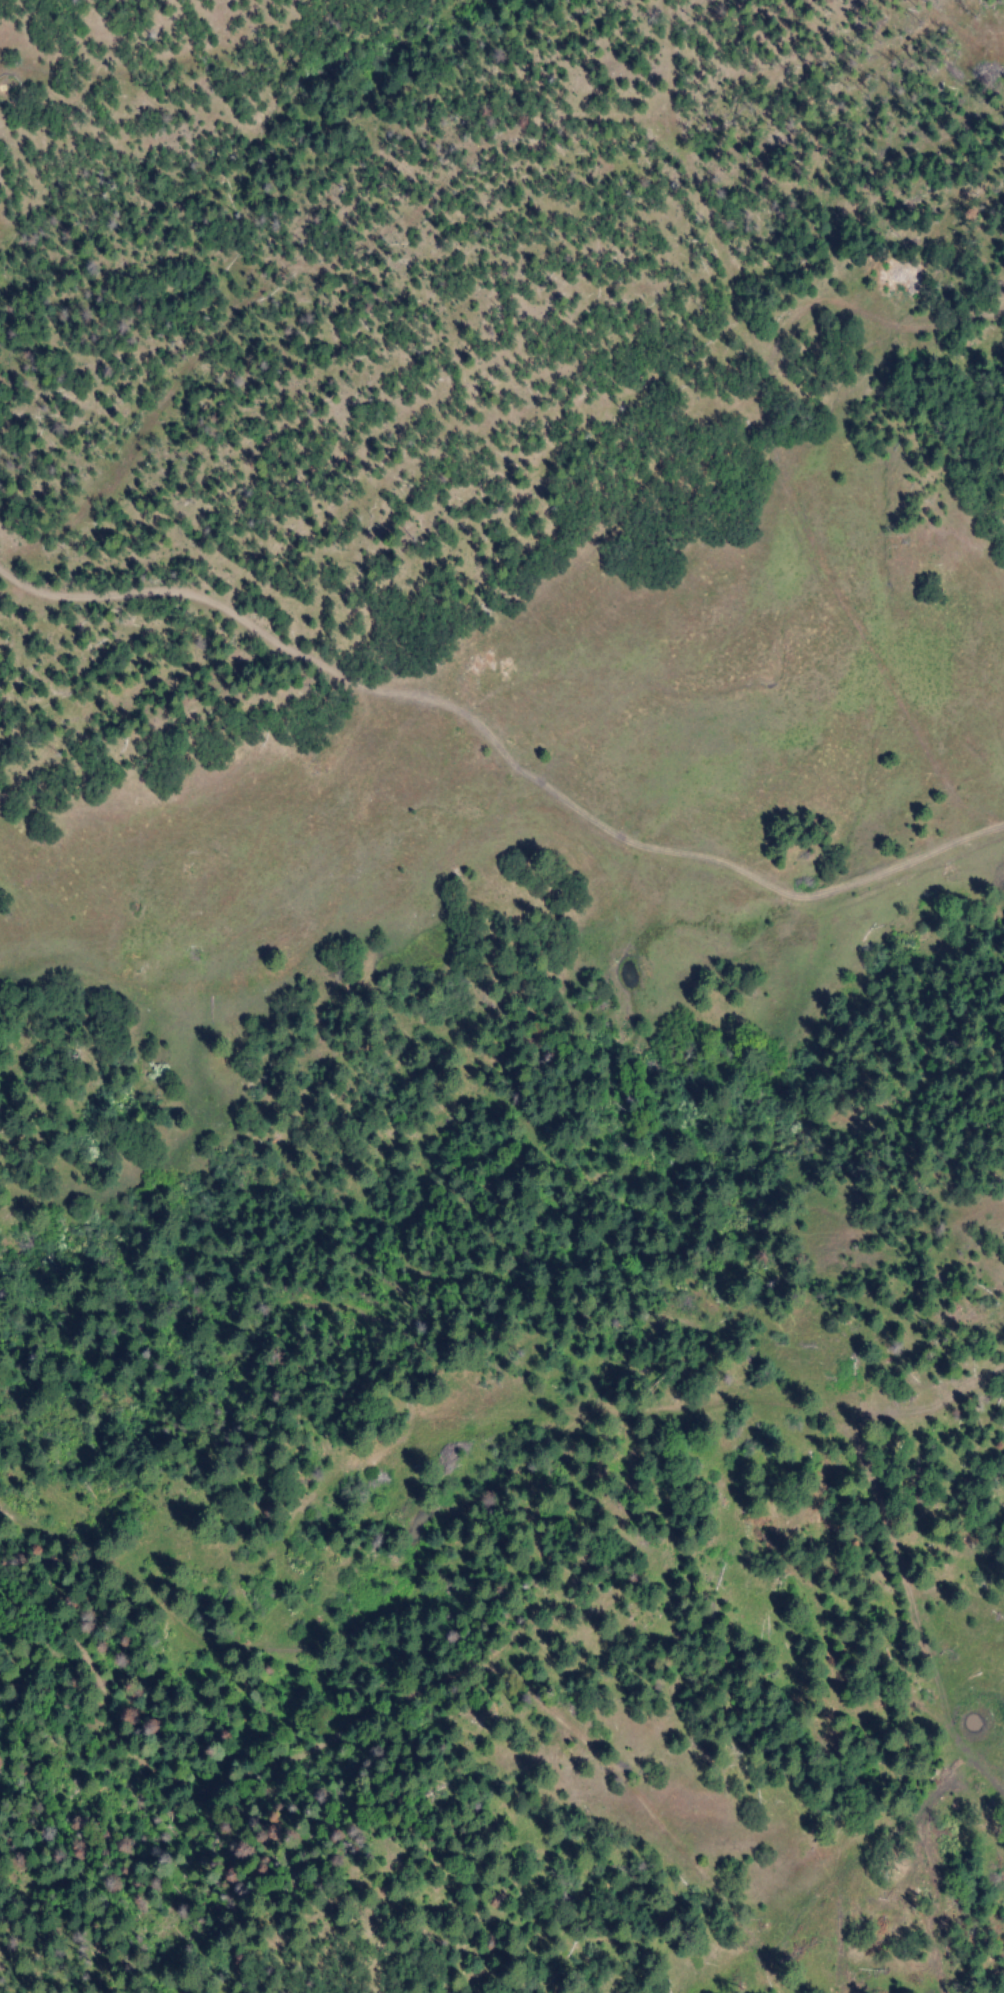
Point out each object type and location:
road: (365, 1765)

